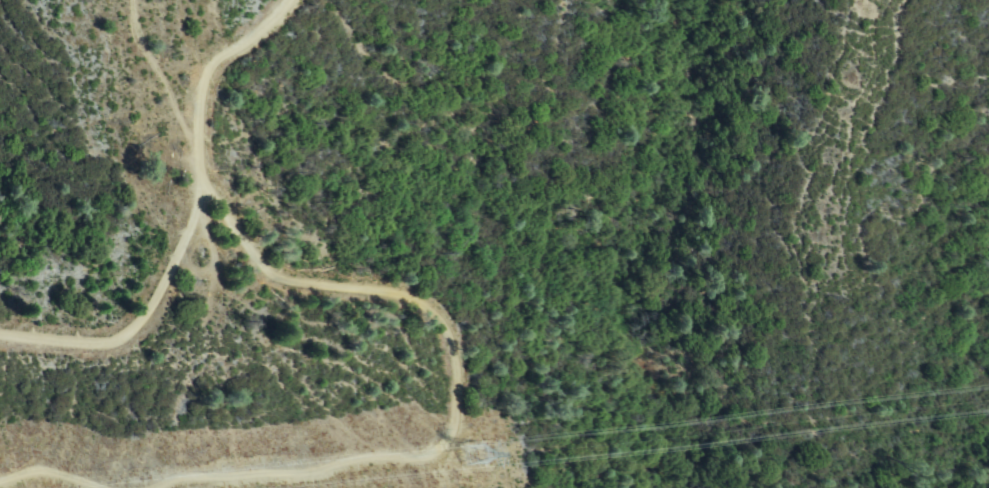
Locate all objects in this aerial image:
road: (182, 216)
road: (284, 268)
power tower: (462, 454)
road: (154, 477)

